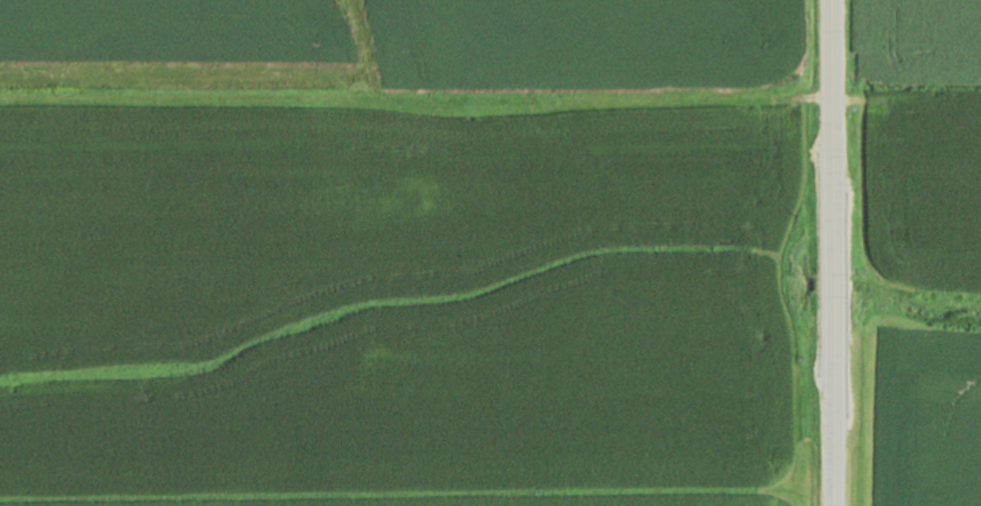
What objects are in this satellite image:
road: (833, 100)
road: (835, 252)

